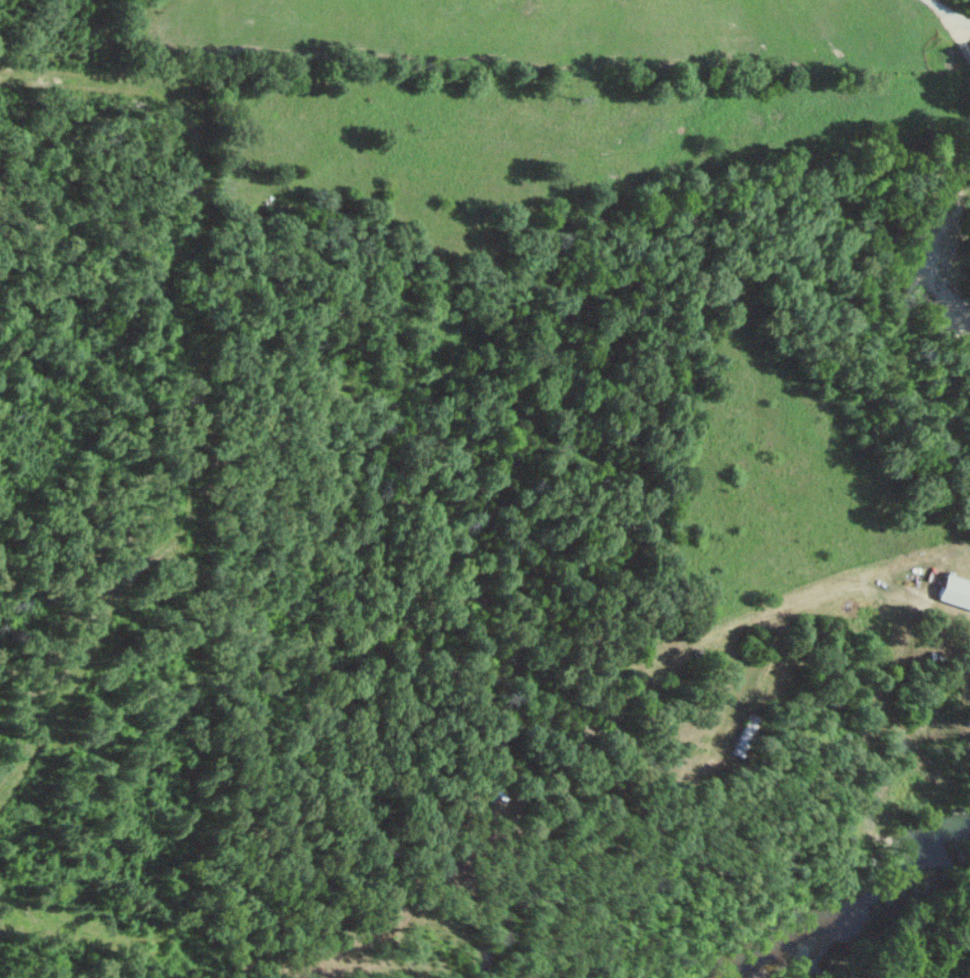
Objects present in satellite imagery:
road: (952, 10)
building: (954, 592)
river: (841, 896)

